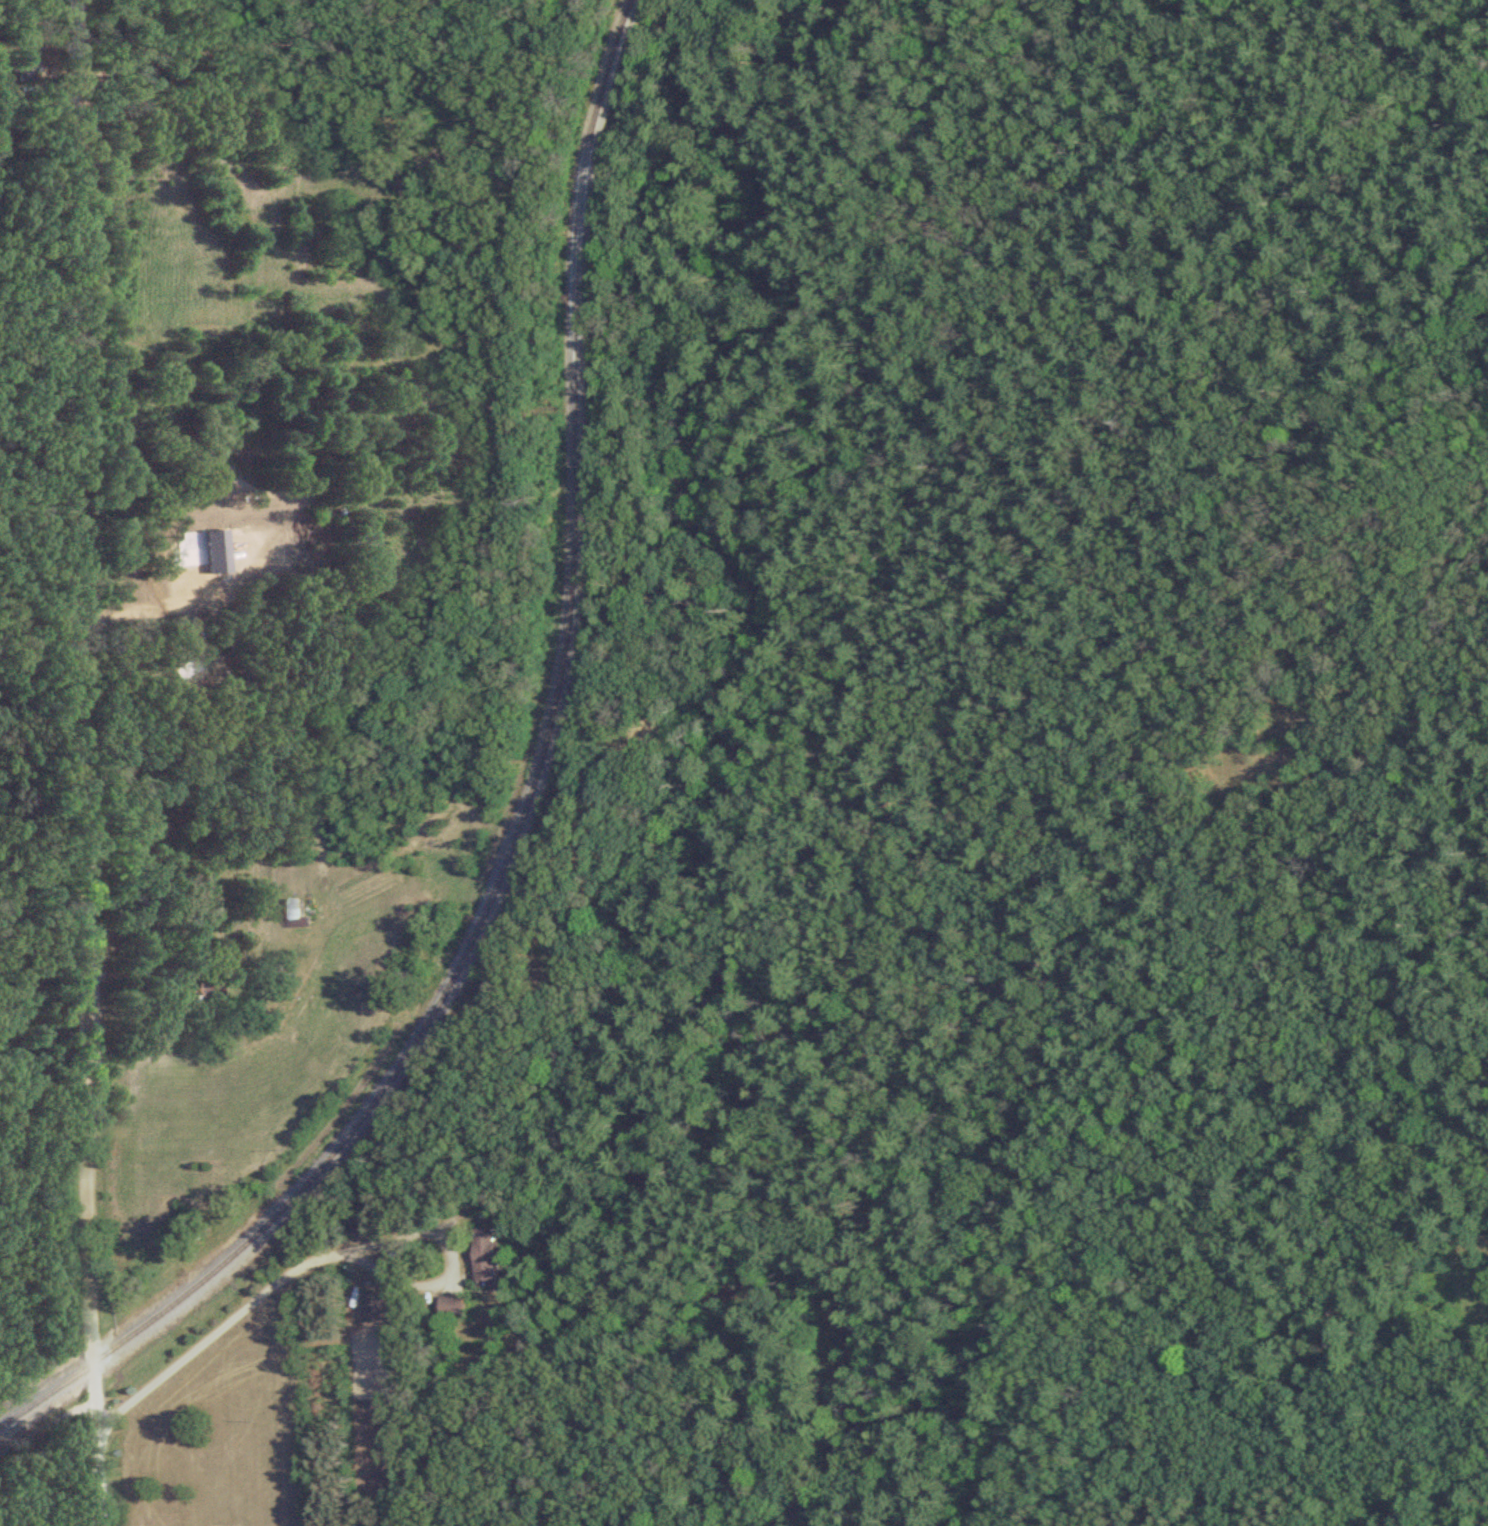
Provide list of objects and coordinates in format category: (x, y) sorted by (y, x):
road: (76, 42)
road: (72, 650)
railway: (525, 814)
building: (293, 915)
road: (40, 967)
building: (485, 1255)
building: (450, 1307)
building: (375, 1308)
road: (214, 1325)

